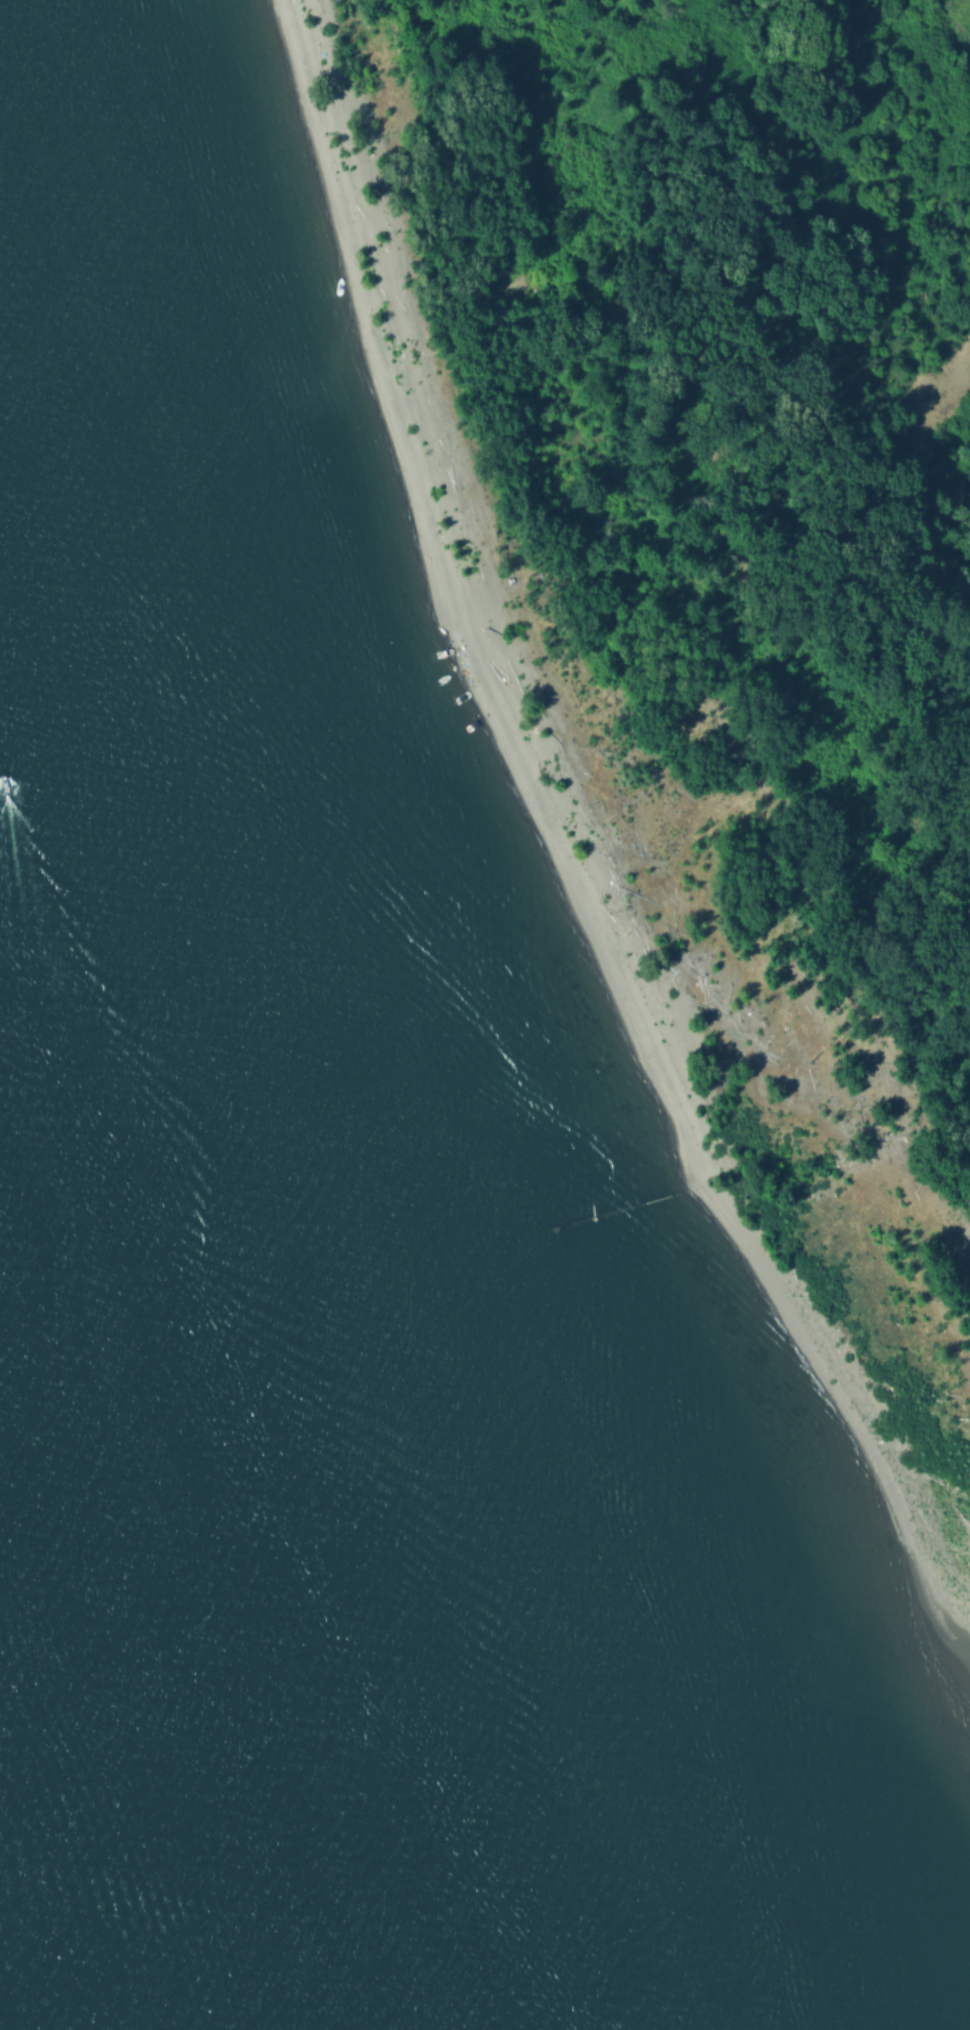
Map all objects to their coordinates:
river: (76, 1818)

